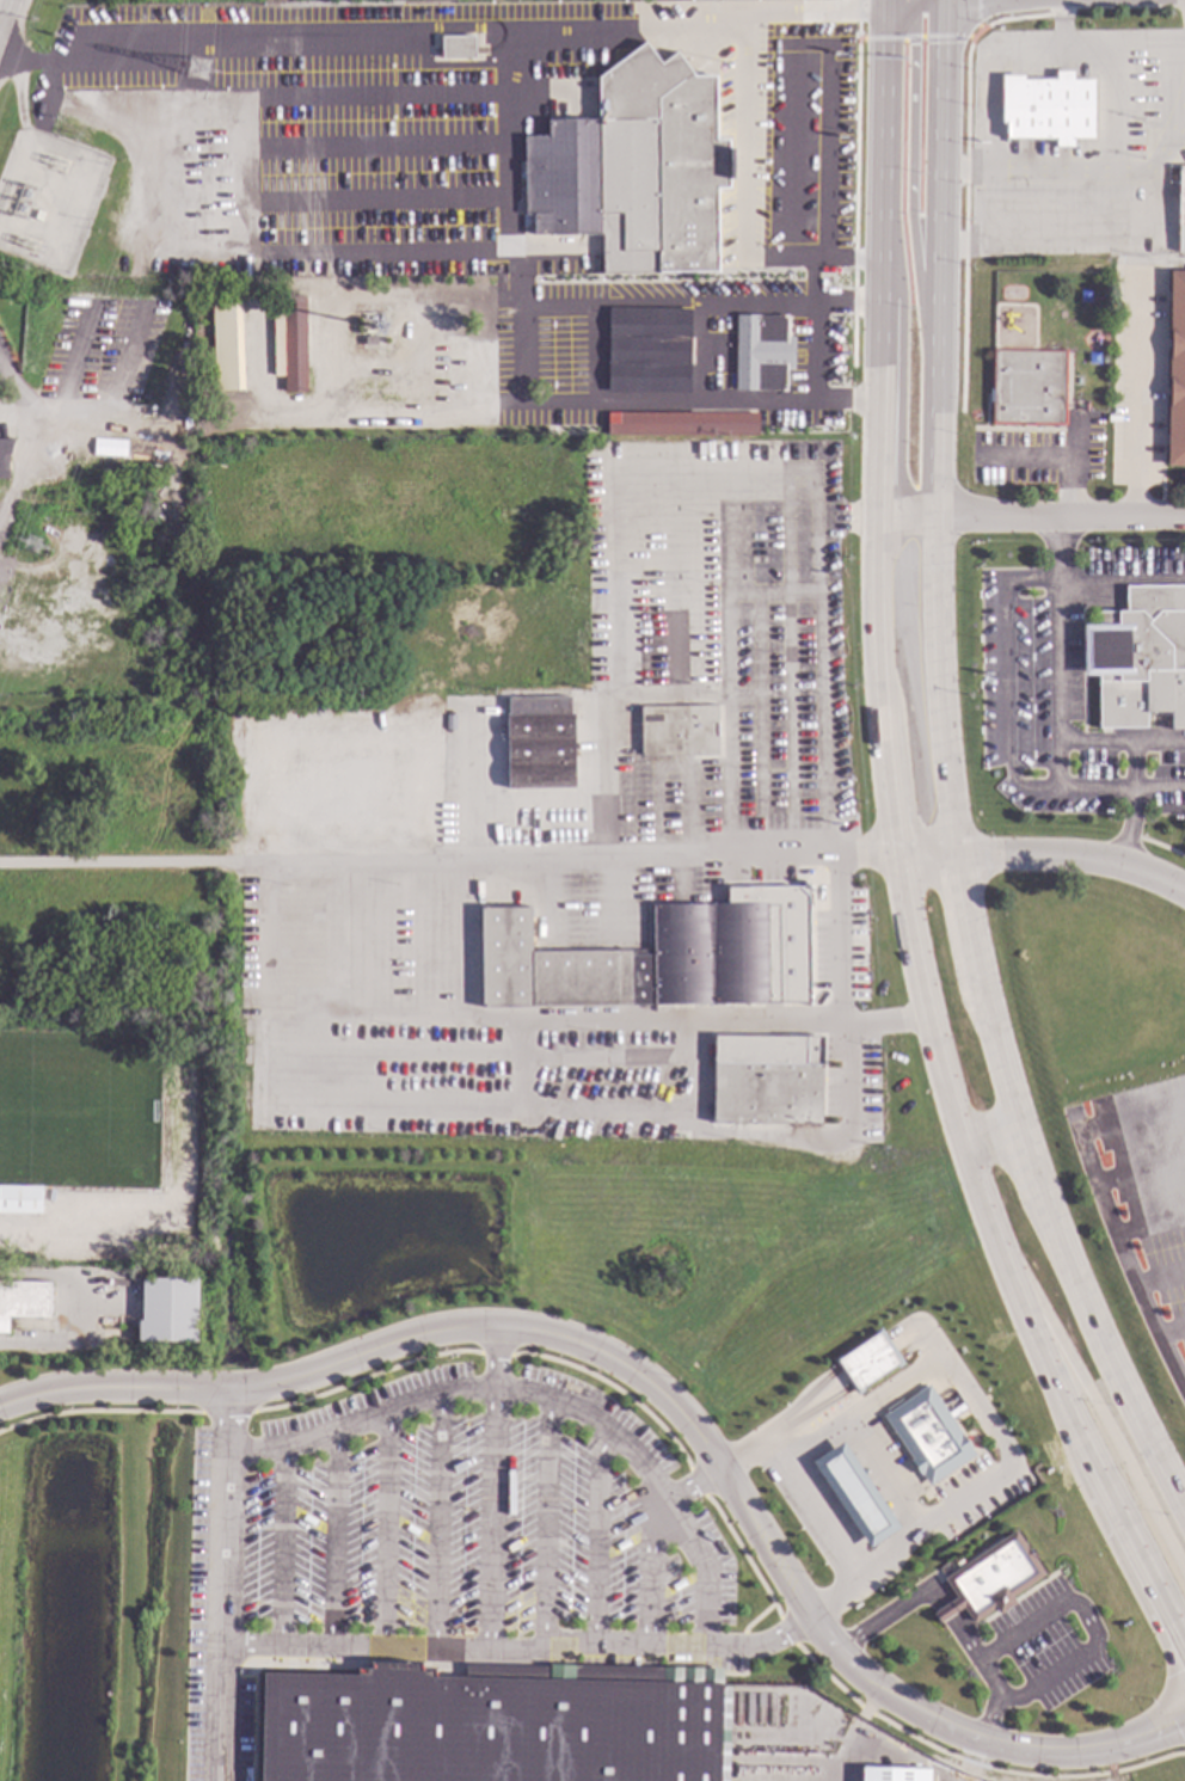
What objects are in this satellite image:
road: (880, 1)
road: (896, 1)
road: (816, 5)
road: (848, 7)
road: (5, 10)
road: (1, 18)
road: (1, 22)
road: (406, 25)
building: (456, 45)
road: (1123, 54)
power tower: (199, 70)
road: (790, 70)
building: (1046, 108)
road: (742, 131)
road: (1177, 135)
building: (634, 167)
road: (1030, 167)
road: (1144, 167)
road: (910, 180)
power substation: (48, 201)
building: (1181, 209)
building: (38, 214)
road: (1089, 238)
road: (392, 251)
building: (1083, 291)
building: (368, 339)
building: (290, 342)
building: (226, 344)
road: (78, 346)
building: (647, 349)
building: (761, 351)
road: (710, 352)
road: (4, 370)
building: (1175, 370)
road: (113, 386)
building: (1027, 387)
road: (1137, 395)
building: (1100, 404)
building: (681, 423)
building: (213, 435)
road: (41, 437)
road: (1069, 456)
building: (5, 457)
road: (760, 468)
road: (1029, 516)
power tower: (35, 547)
road: (1094, 582)
road: (1058, 653)
building: (1138, 661)
road: (1005, 686)
building: (677, 729)
building: (539, 742)
road: (1122, 743)
road: (671, 768)
road: (943, 784)
road: (468, 788)
road: (1098, 792)
road: (522, 813)
road: (1129, 831)
road: (1156, 846)
road: (895, 853)
road: (1043, 859)
road: (576, 862)
road: (128, 866)
building: (652, 958)
road: (515, 1017)
road: (512, 1056)
building: (766, 1092)
road: (585, 1114)
road: (989, 1140)
building: (19, 1198)
parking lot: (1142, 1203)
road: (1110, 1212)
building: (23, 1300)
road: (84, 1307)
building: (167, 1308)
building: (867, 1361)
road: (664, 1395)
road: (1099, 1411)
road: (975, 1414)
road: (361, 1418)
gas station: (928, 1435)
building: (927, 1436)
road: (618, 1443)
road: (884, 1476)
building: (855, 1496)
road: (815, 1515)
road: (493, 1519)
road: (434, 1523)
road: (548, 1527)
road: (382, 1529)
road: (596, 1534)
road: (331, 1539)
road: (281, 1547)
parking lot: (441, 1550)
road: (647, 1562)
building: (993, 1574)
road: (935, 1595)
road: (223, 1617)
road: (1087, 1620)
road: (707, 1626)
road: (466, 1648)
road: (990, 1721)
building: (481, 1730)
building: (894, 1774)

